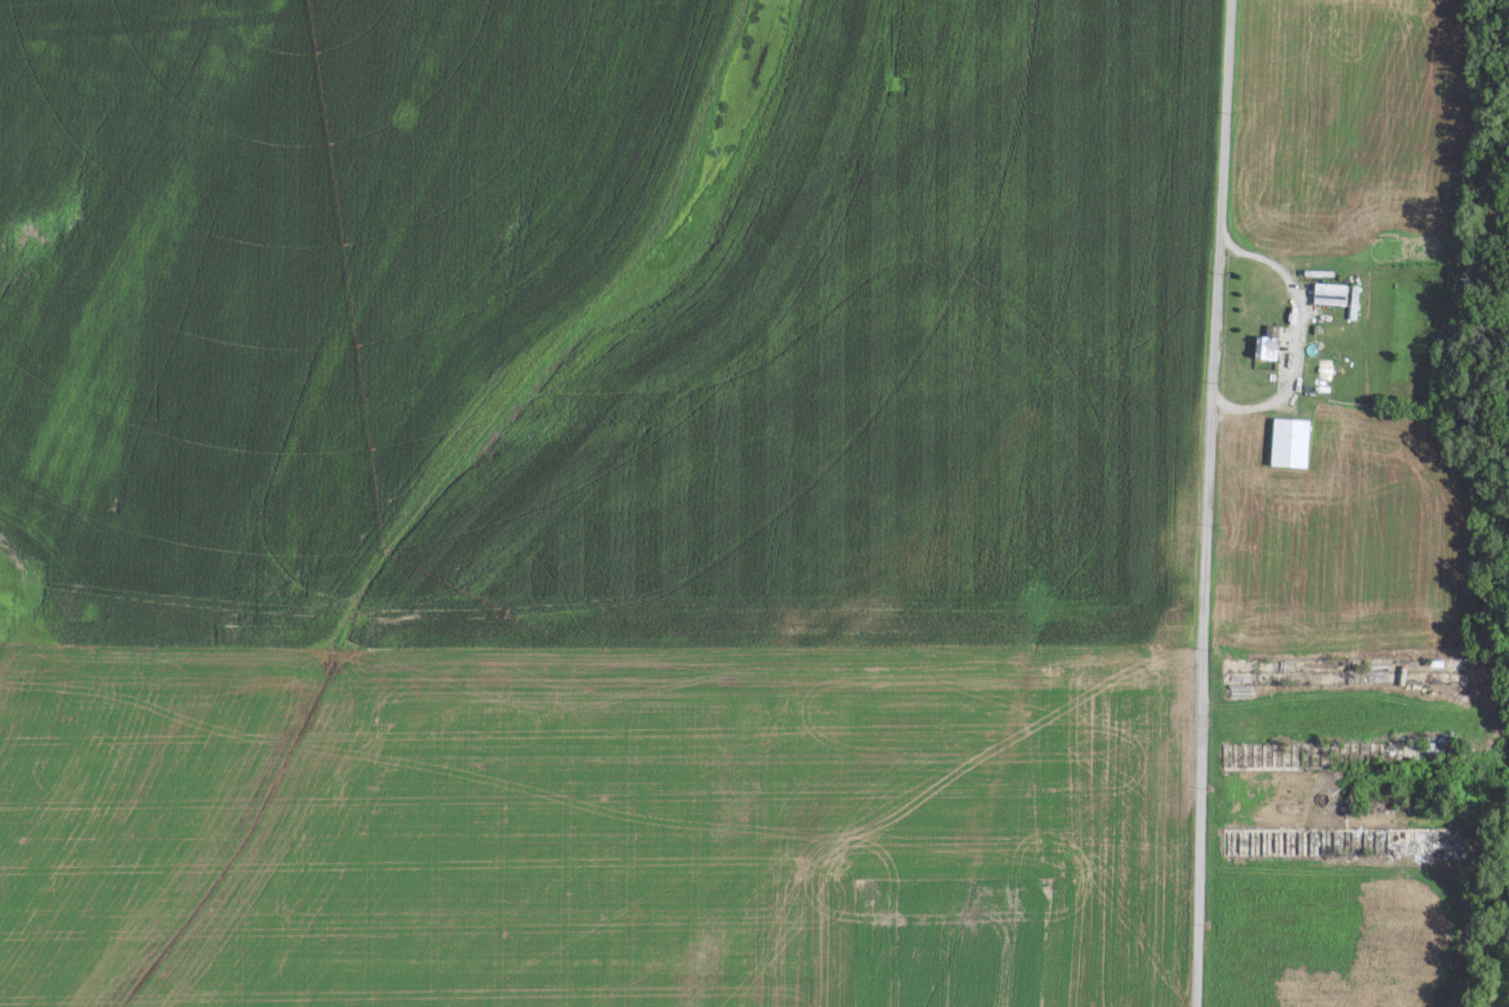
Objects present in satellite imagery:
building: (1329, 292)
road: (1297, 333)
building: (1289, 441)
road: (1204, 503)

